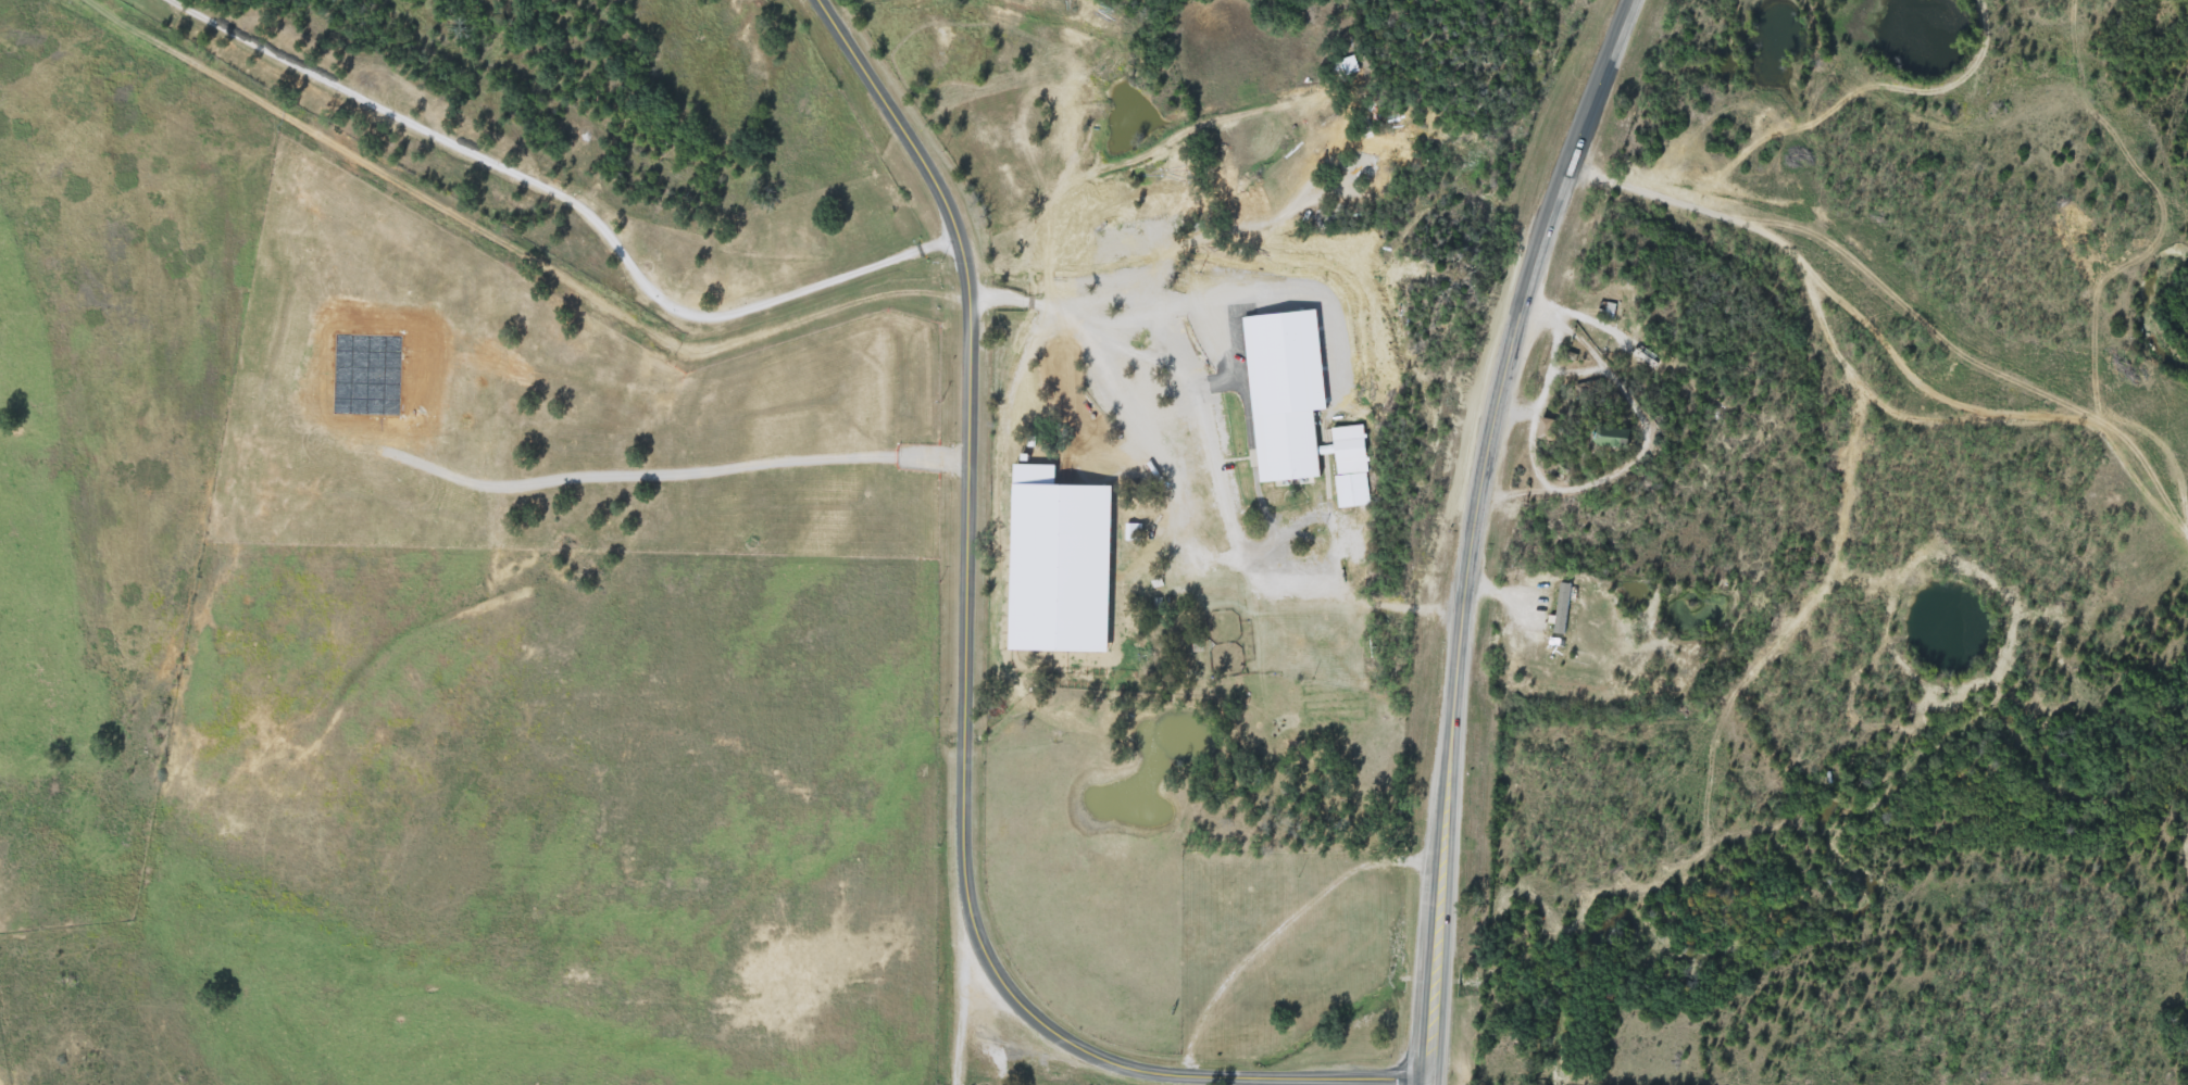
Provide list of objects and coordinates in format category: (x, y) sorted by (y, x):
building: (1387, 148)
road: (572, 201)
road: (1184, 369)
road: (1573, 369)
building: (1591, 391)
road: (1871, 400)
road: (1515, 404)
road: (1535, 405)
building: (1546, 430)
road: (1643, 441)
building: (1604, 449)
building: (1309, 455)
road: (1474, 531)
building: (1558, 607)
road: (965, 699)
building: (1265, 916)
road: (957, 999)

